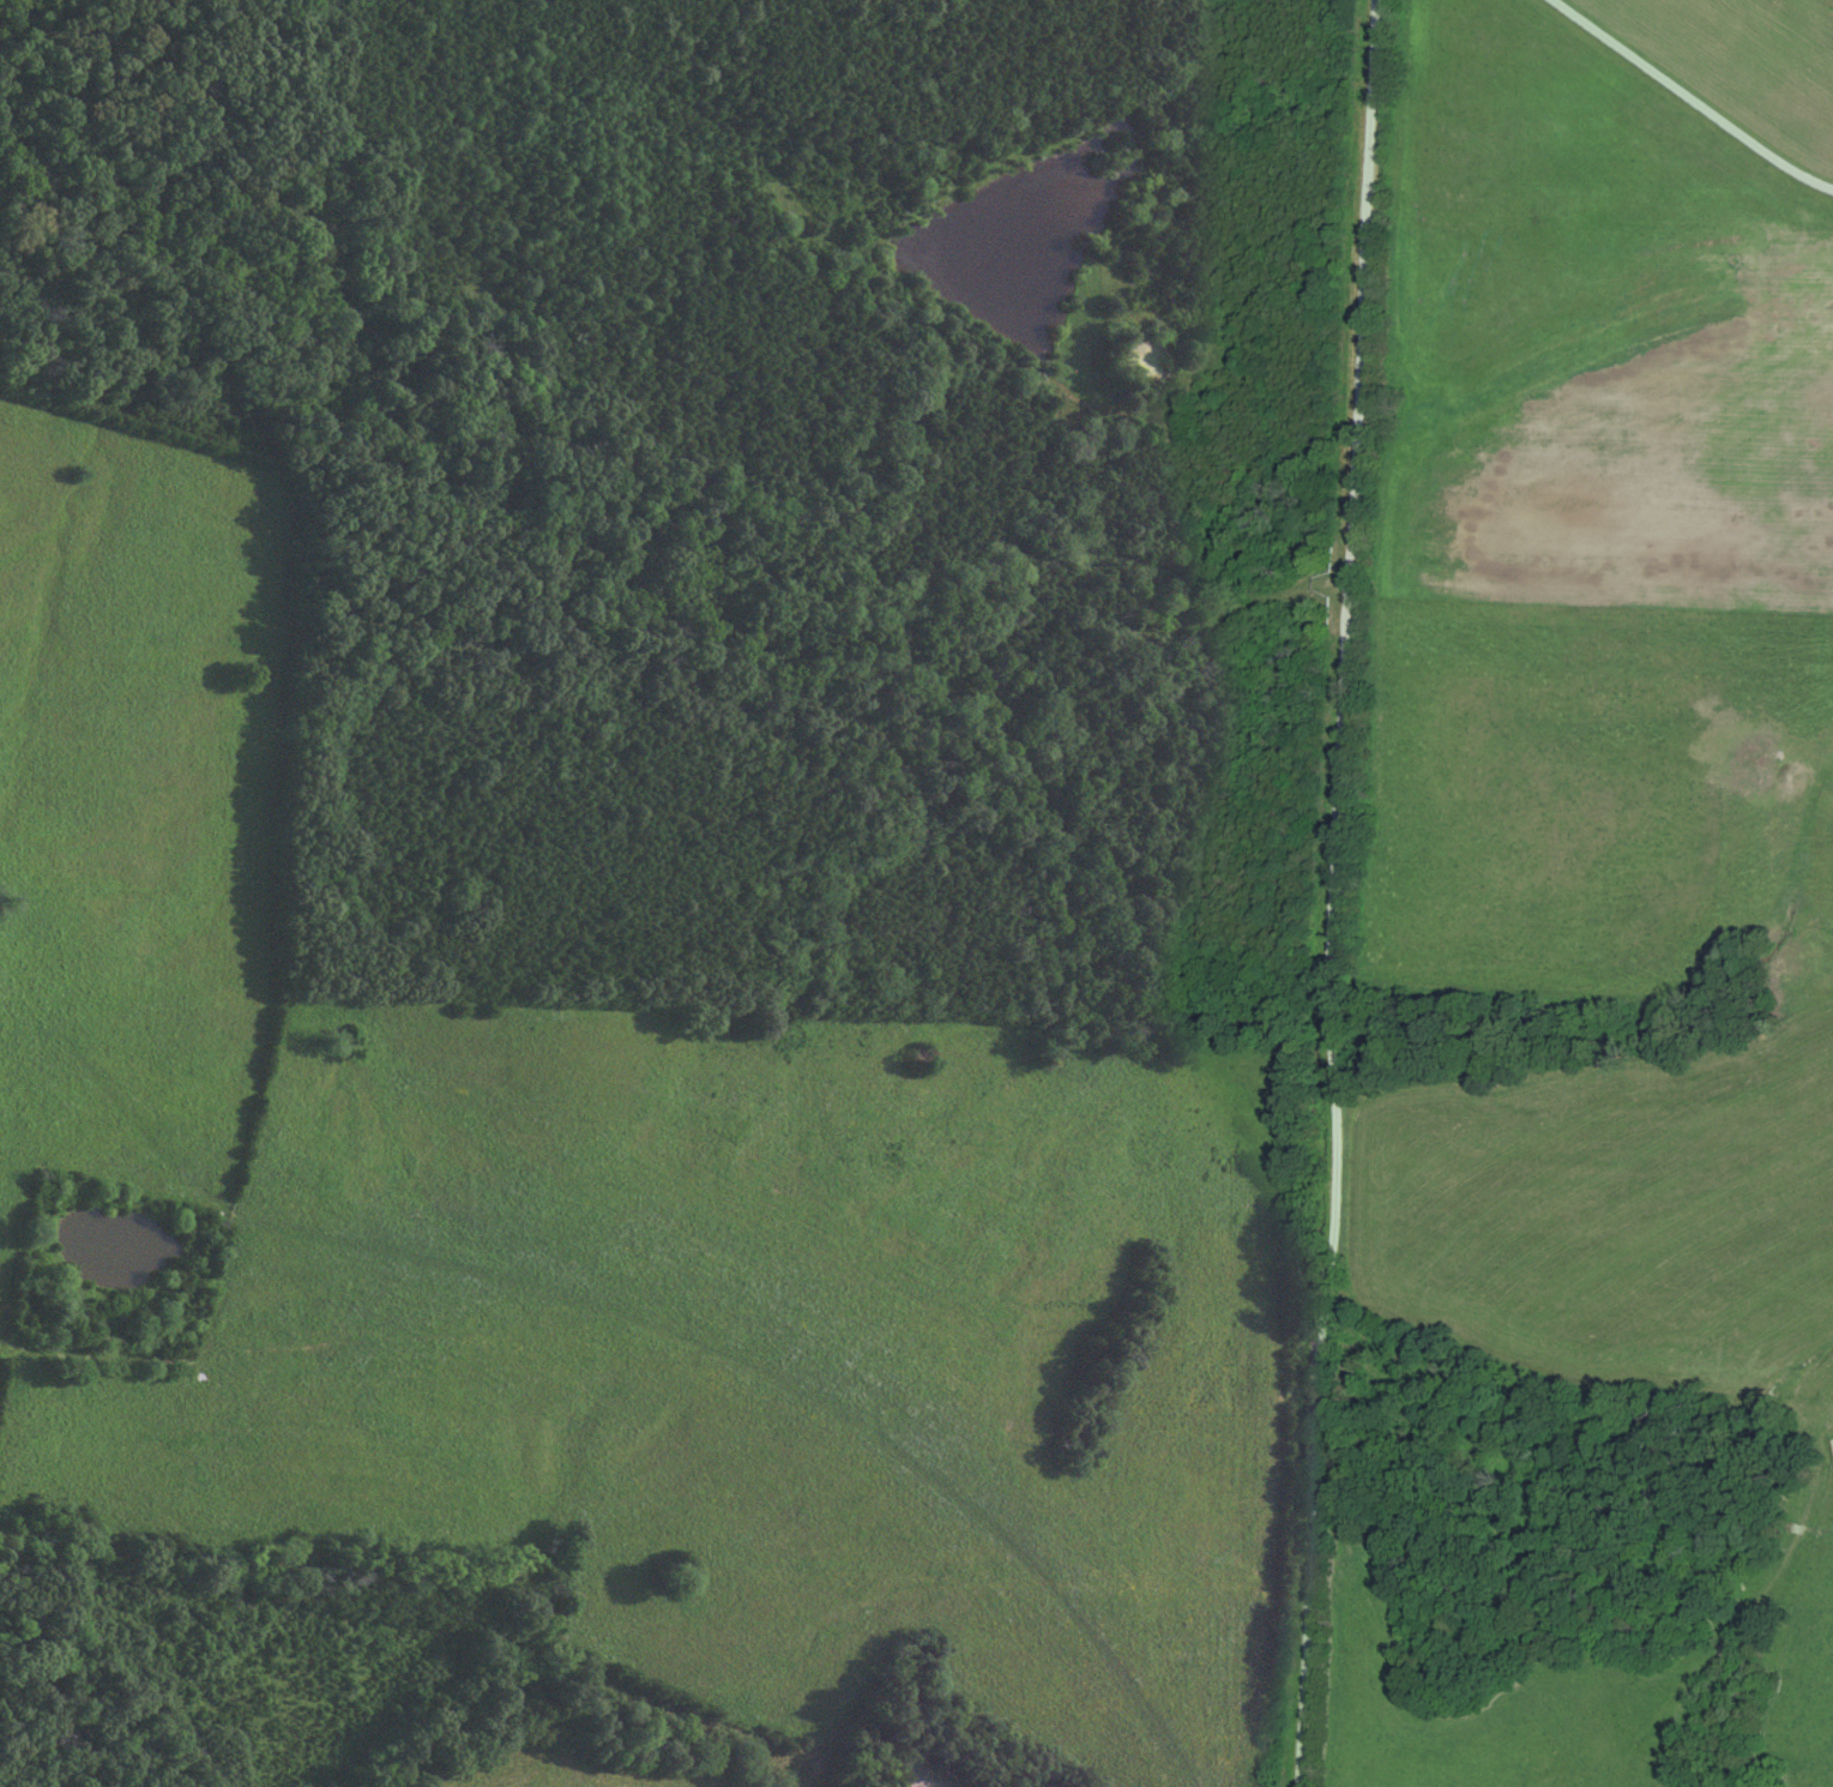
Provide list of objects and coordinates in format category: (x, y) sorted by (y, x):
road: (1688, 101)
road: (1335, 894)

